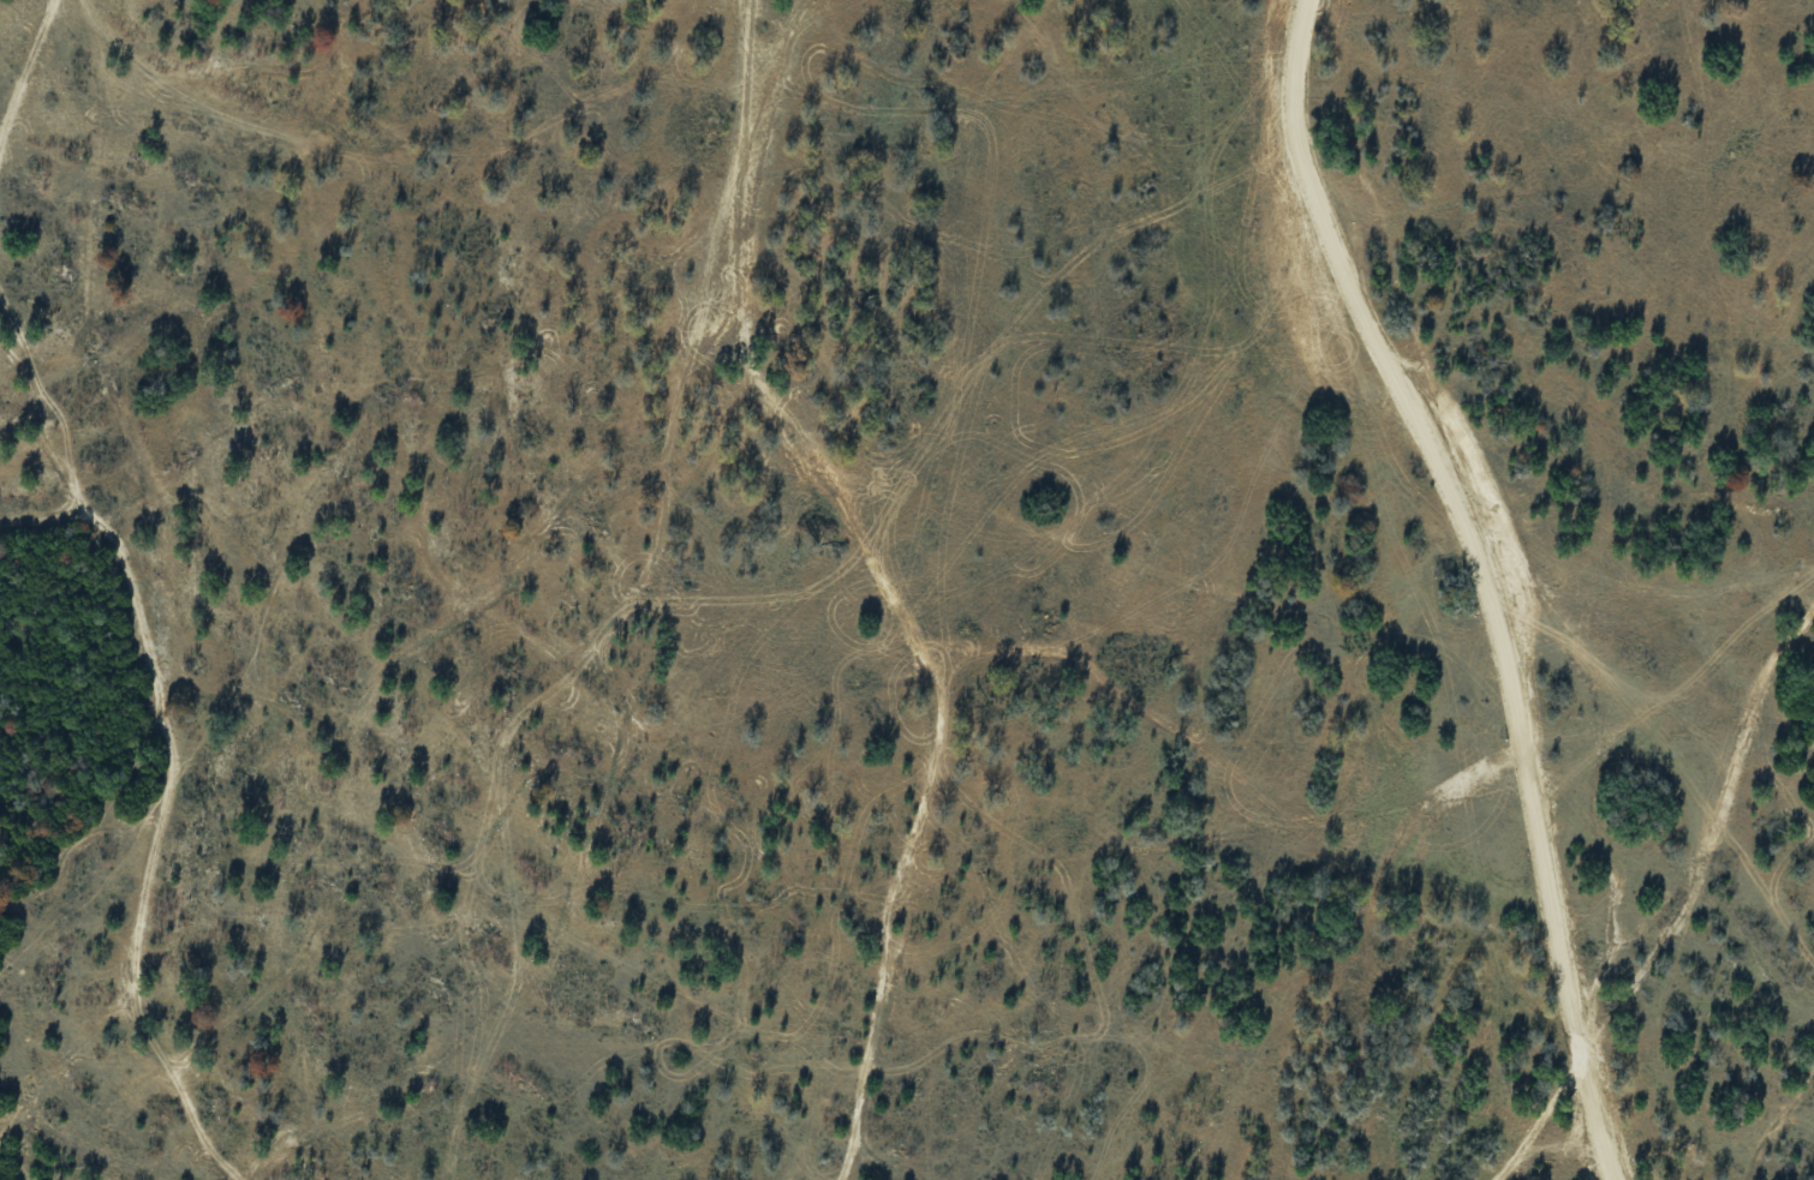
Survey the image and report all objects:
road: (1488, 575)

